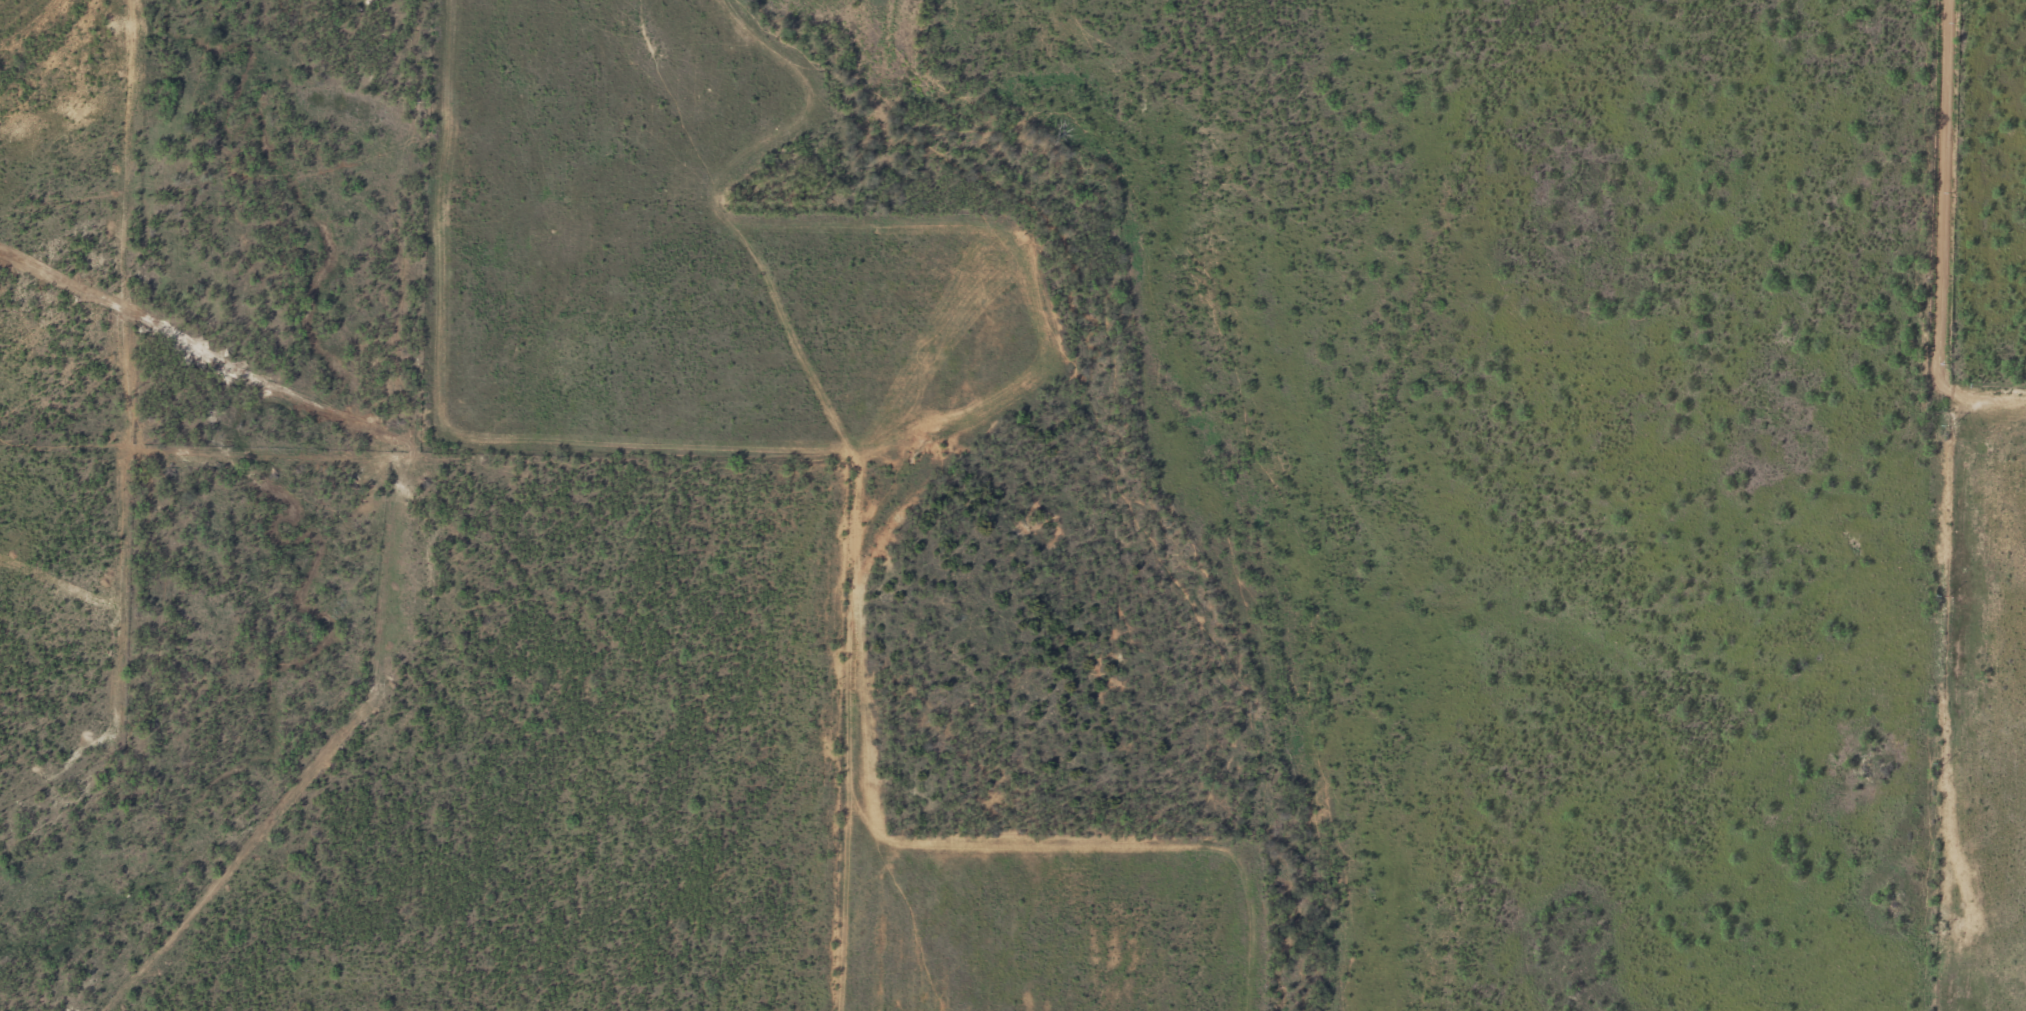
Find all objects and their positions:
road: (1946, 190)

